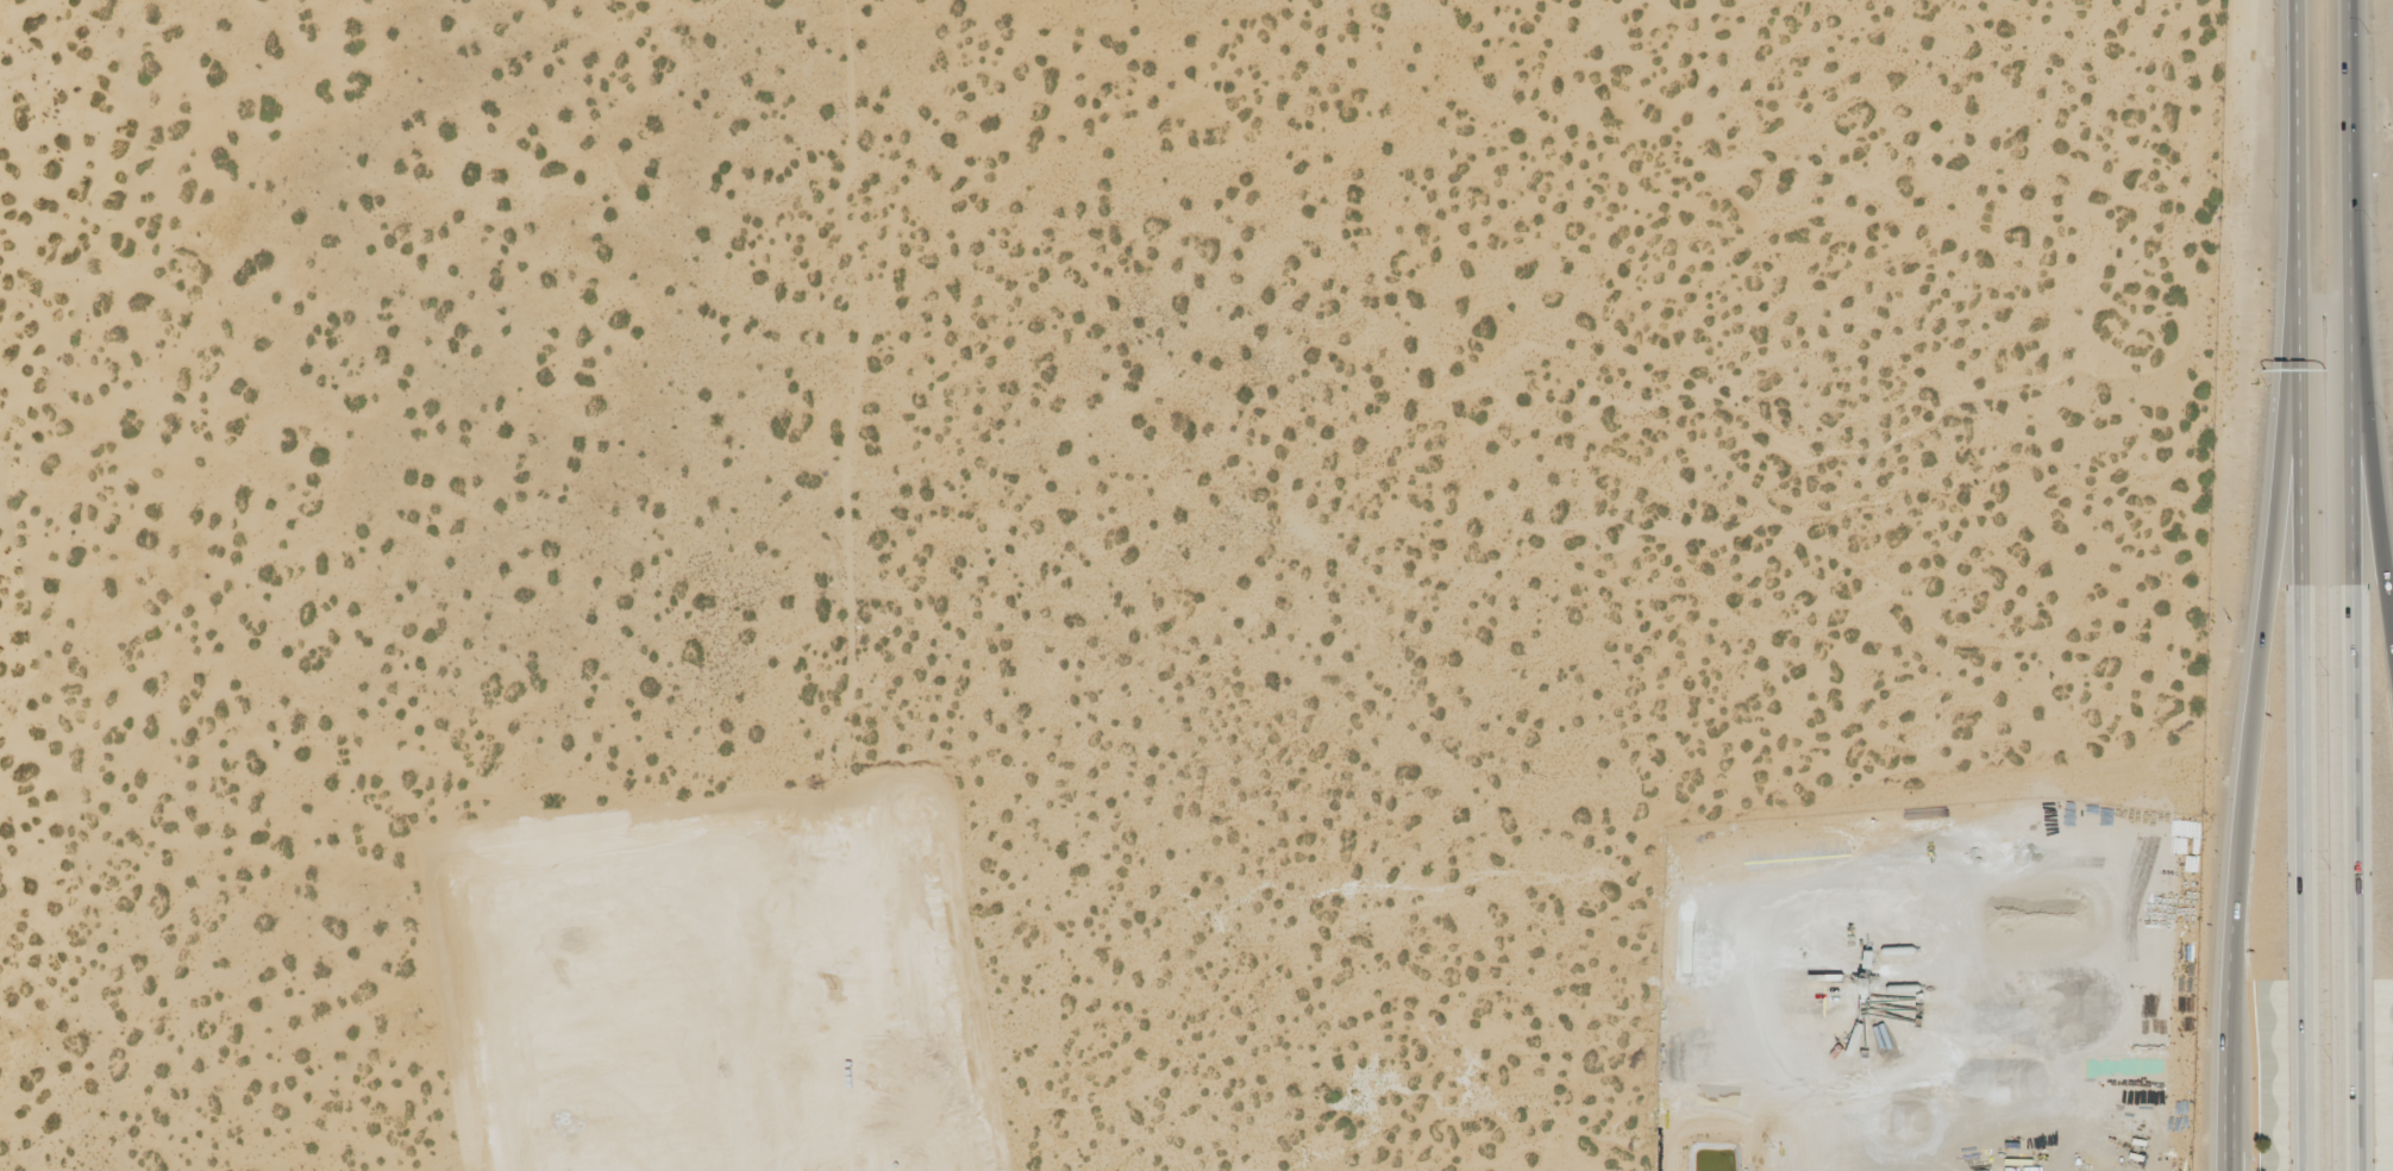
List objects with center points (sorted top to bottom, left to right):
road: (2354, 155)
road: (2298, 156)
road: (2373, 459)
road: (2358, 740)
road: (2250, 741)
road: (2307, 741)

